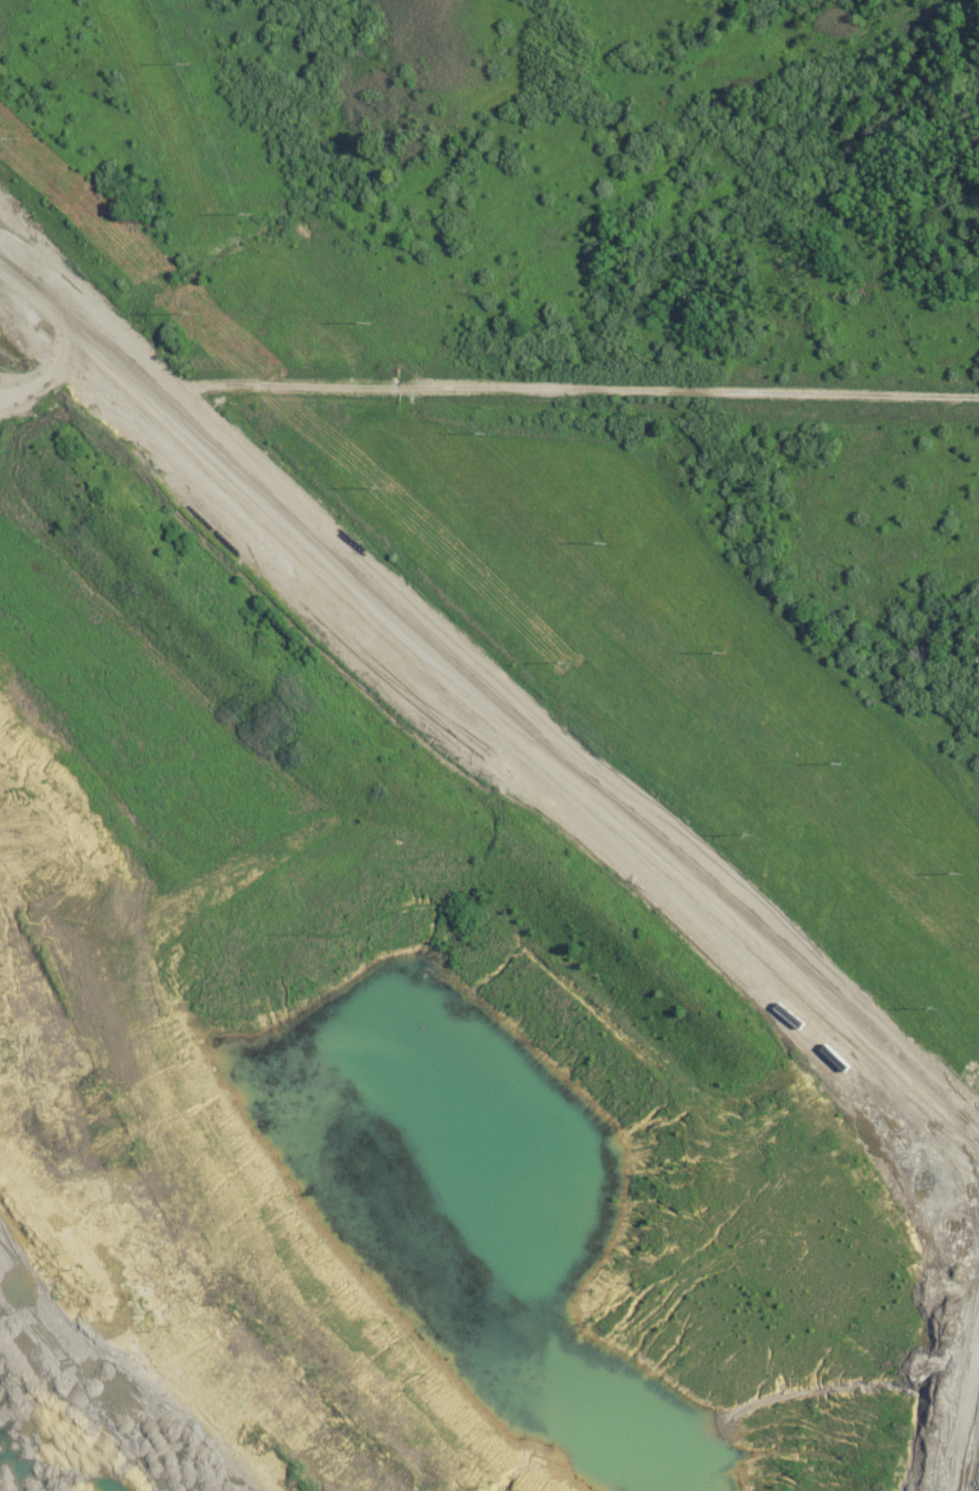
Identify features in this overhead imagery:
road: (489, 399)
road: (491, 717)
quarry: (859, 1248)
road: (967, 1417)

